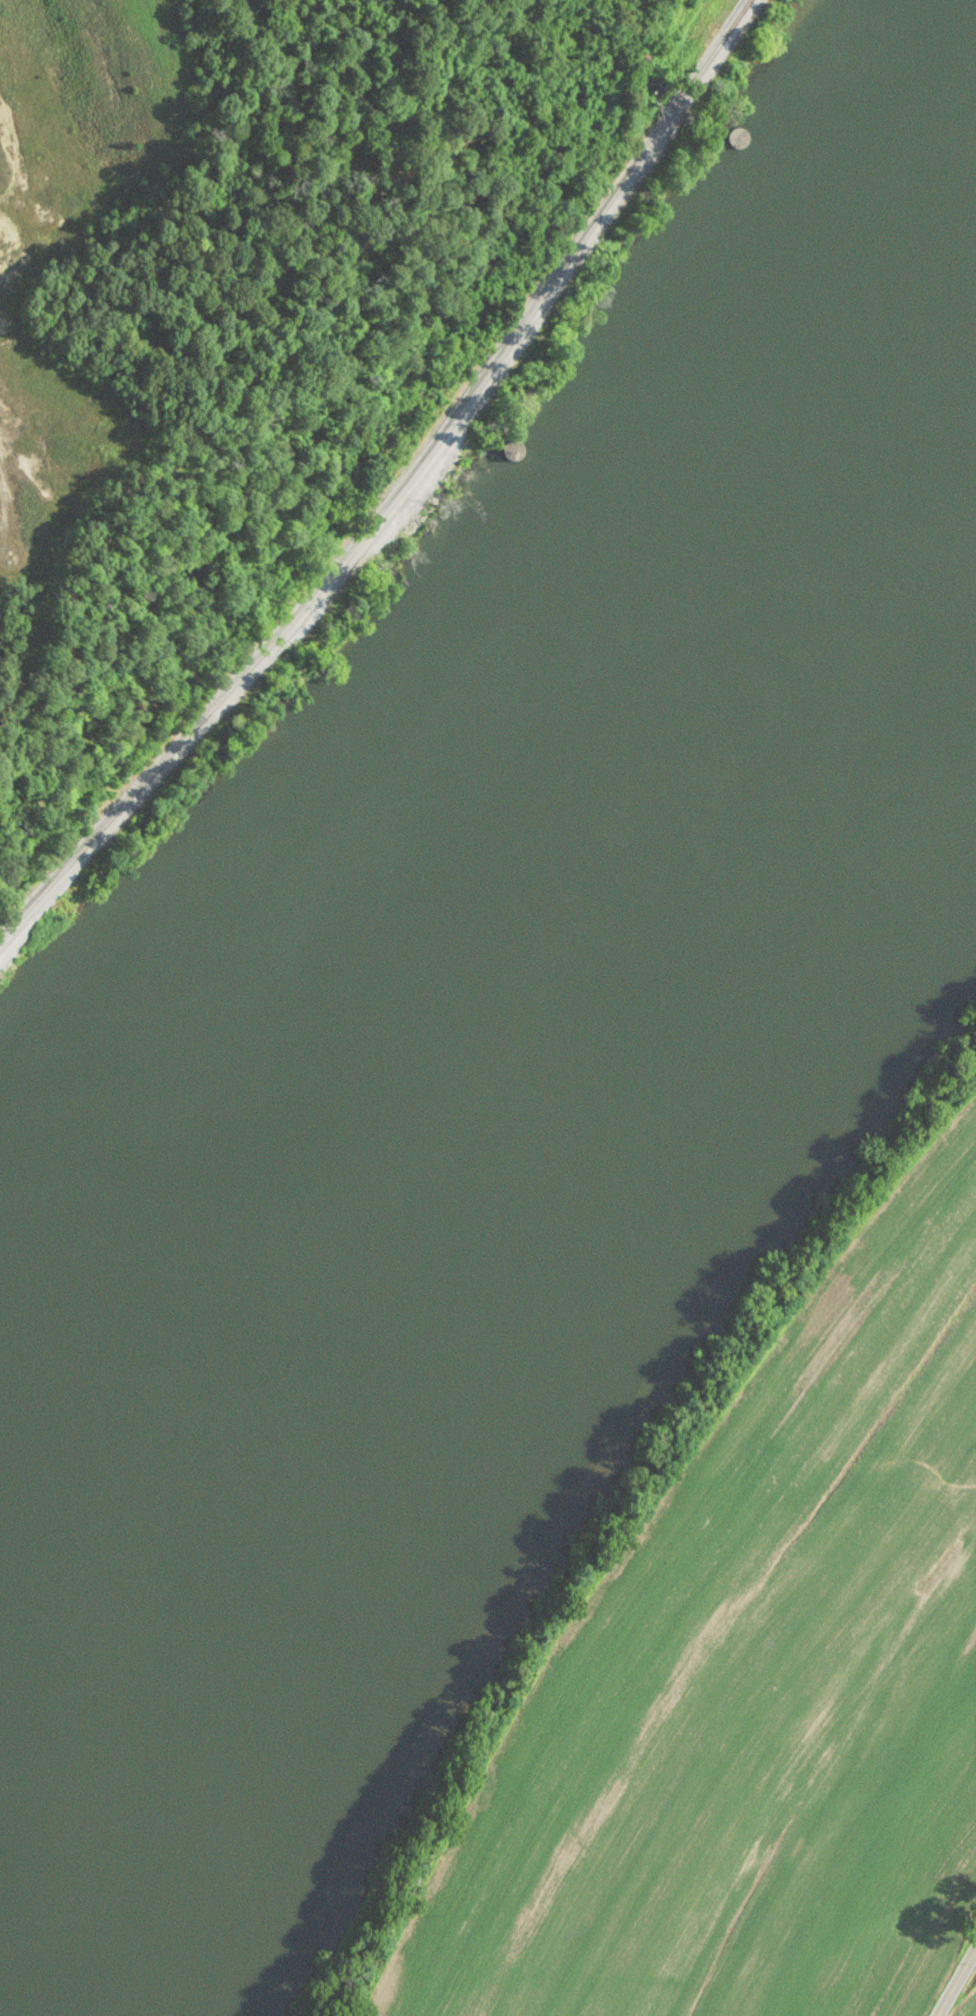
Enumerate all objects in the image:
railway: (400, 491)
river: (473, 998)
crop: (740, 1670)
road: (958, 1981)

